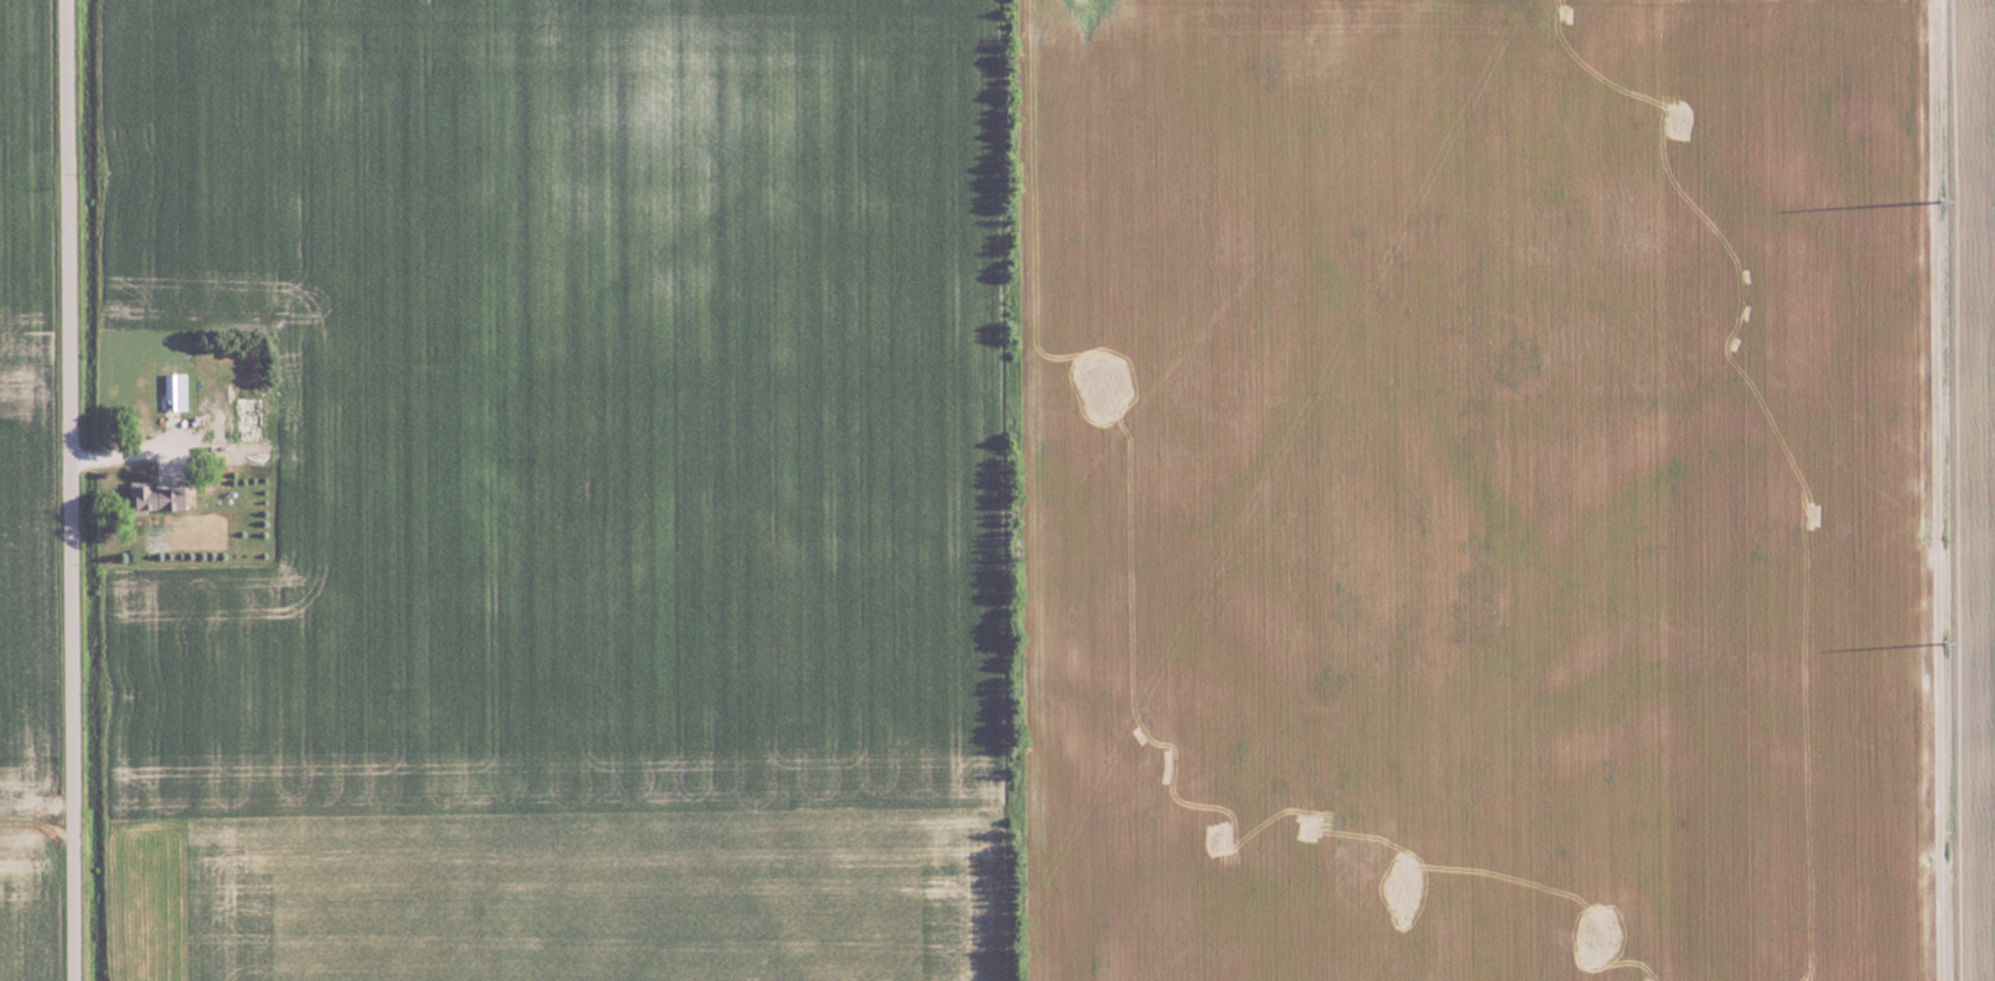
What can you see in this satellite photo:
building: (158, 401)
building: (230, 410)
building: (1751, 417)
road: (73, 490)
building: (157, 498)
building: (1461, 631)

